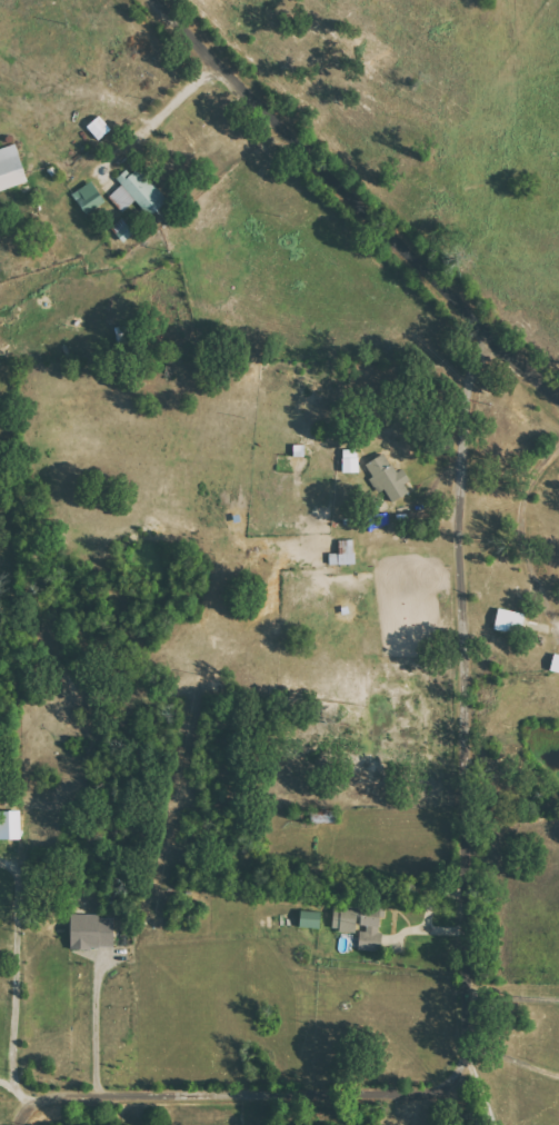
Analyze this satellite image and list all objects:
building: (11, 168)
building: (138, 192)
building: (89, 197)
road: (350, 206)
building: (122, 229)
building: (388, 477)
road: (519, 534)
building: (343, 552)
building: (510, 620)
building: (556, 664)
building: (310, 918)
building: (359, 924)
building: (93, 930)
road: (465, 930)
road: (16, 977)
road: (511, 997)
road: (94, 1022)
road: (18, 1087)
road: (479, 1092)
road: (453, 1099)

